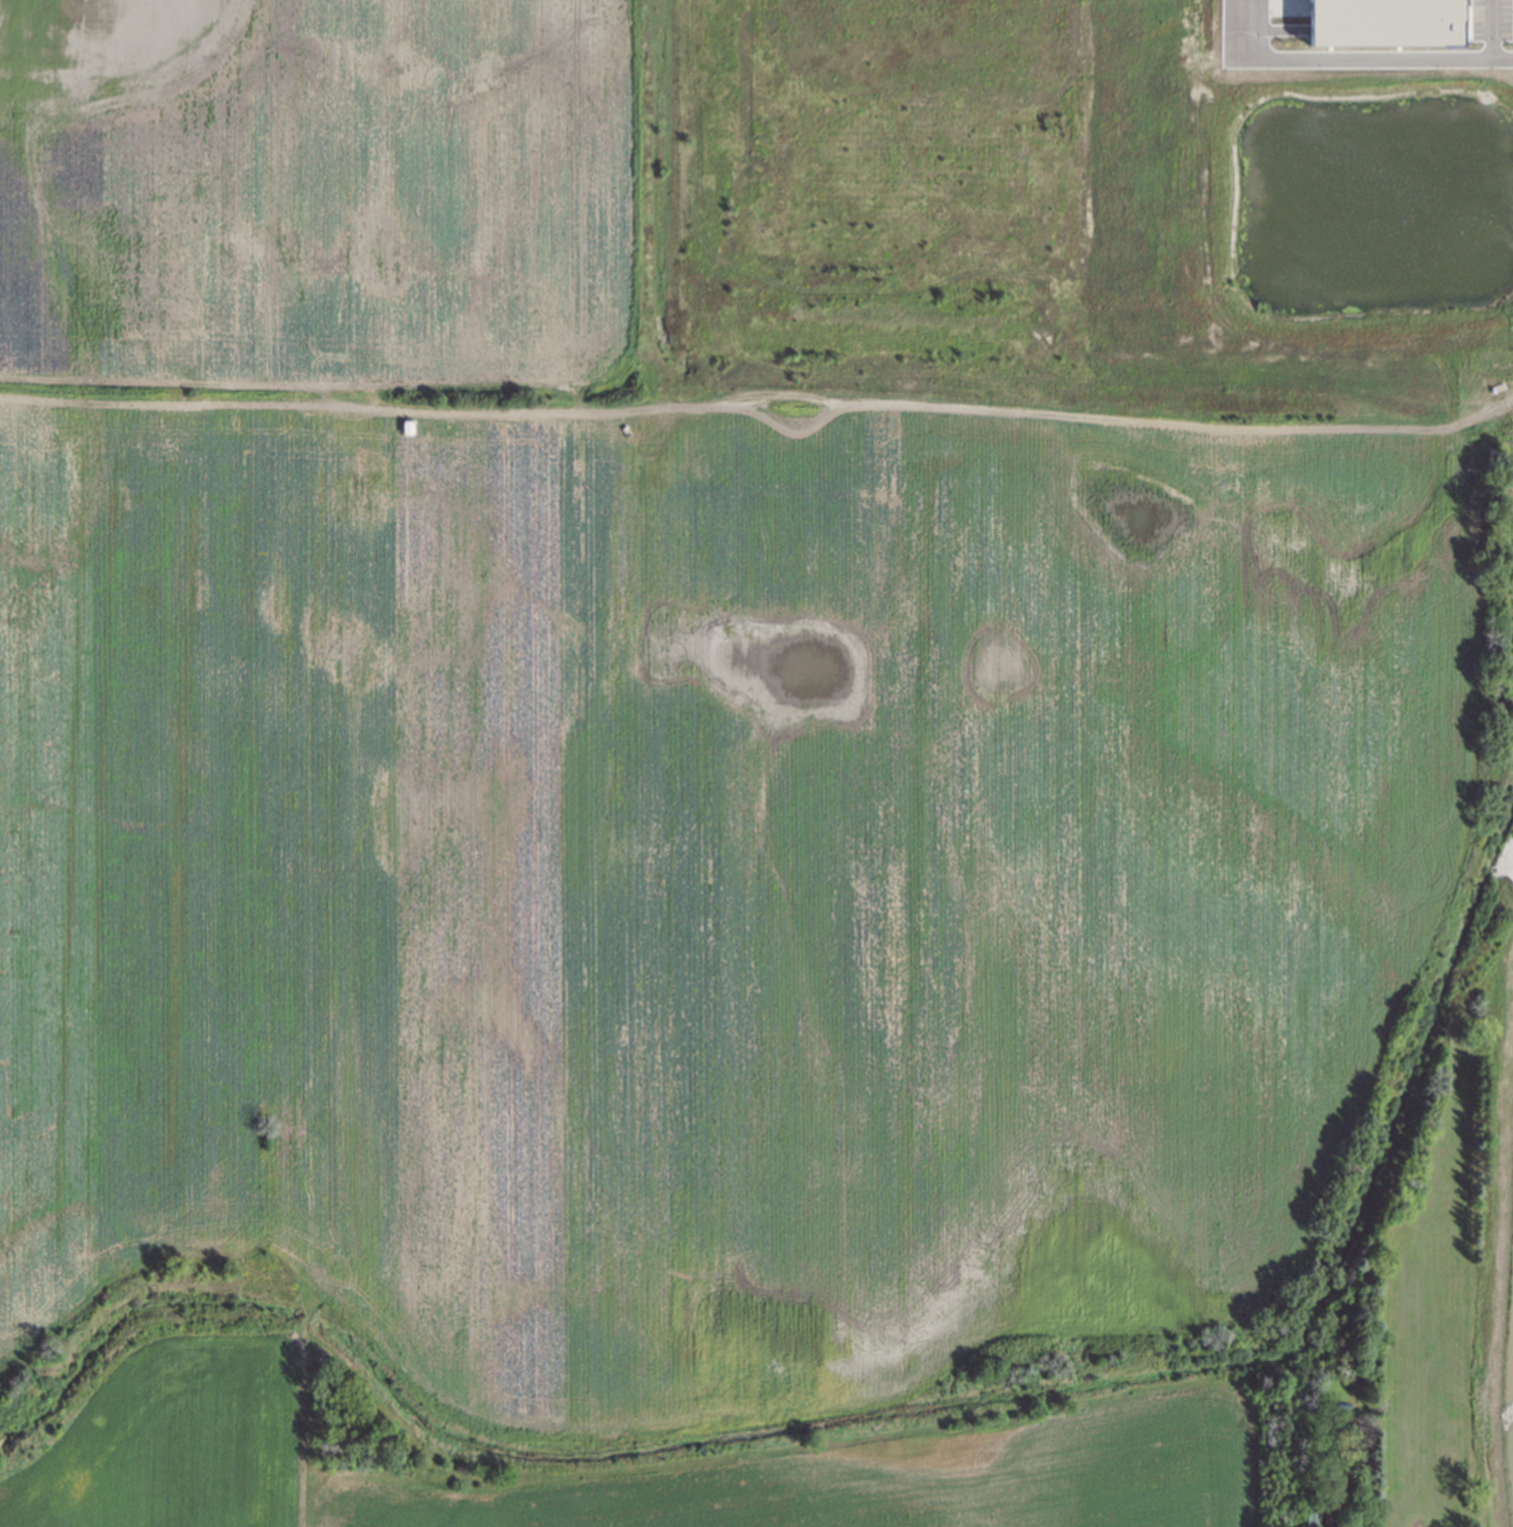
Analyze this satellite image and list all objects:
building: (1386, 22)
road: (1491, 29)
road: (1352, 59)
building: (1313, 1518)

